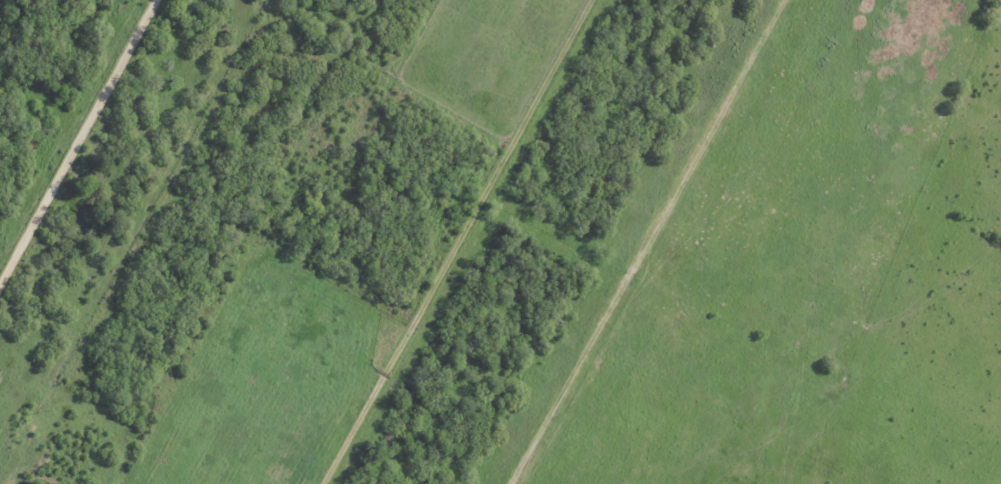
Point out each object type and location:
road: (74, 135)
road: (459, 242)

